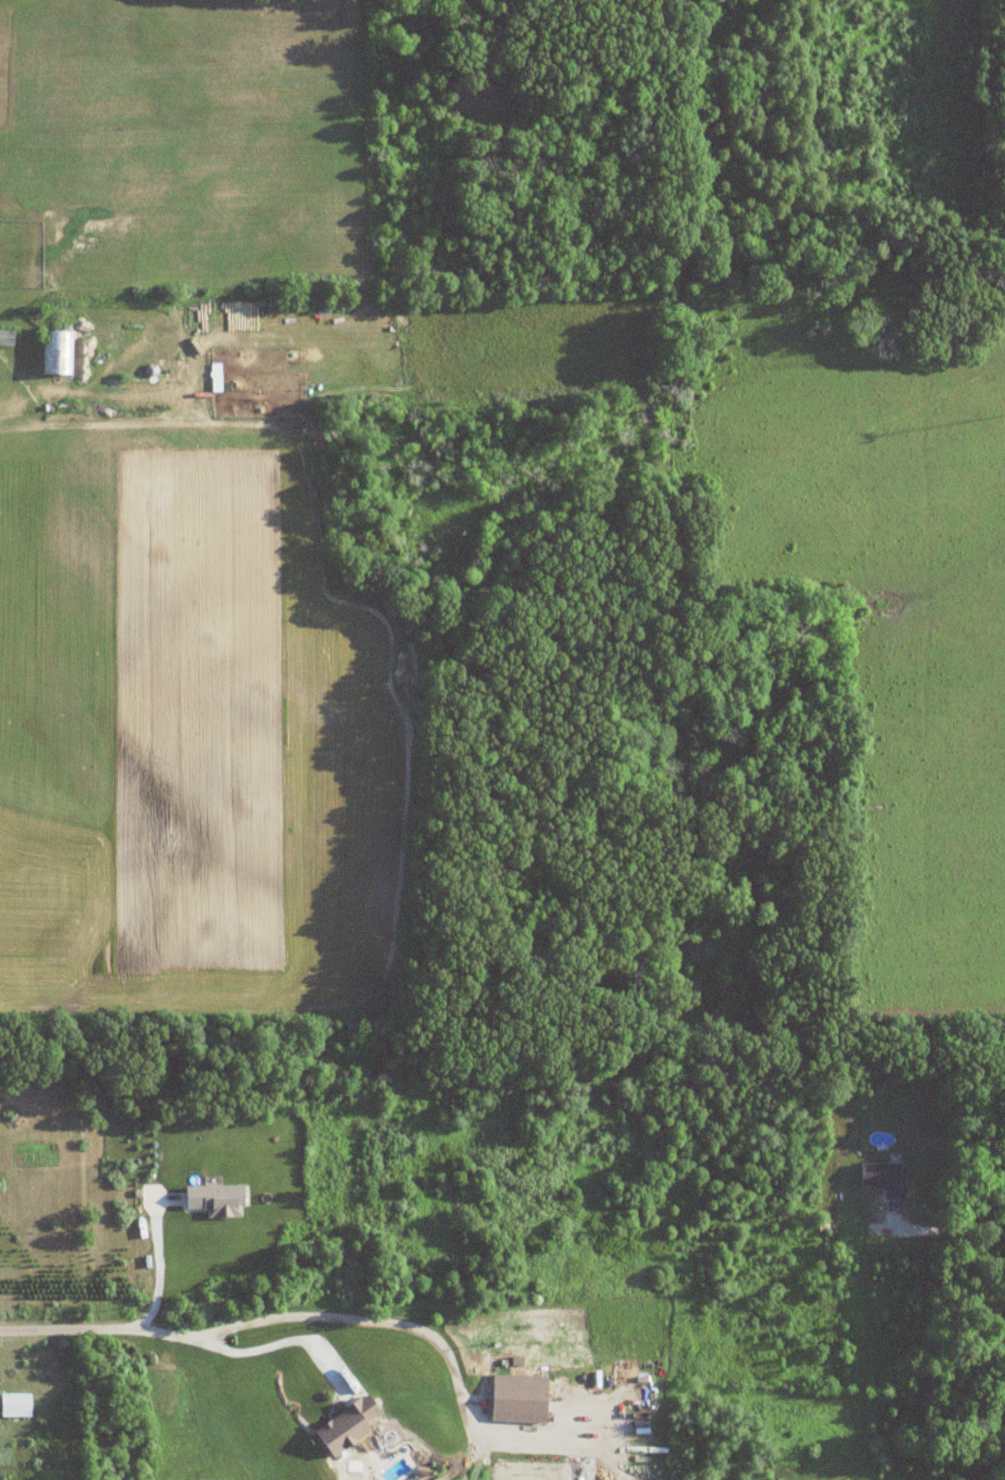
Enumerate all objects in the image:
building: (7, 337)
building: (57, 353)
building: (115, 385)
building: (885, 1178)
building: (218, 1199)
road: (954, 1225)
road: (156, 1263)
road: (277, 1314)
road: (279, 1340)
building: (520, 1405)
building: (349, 1426)

